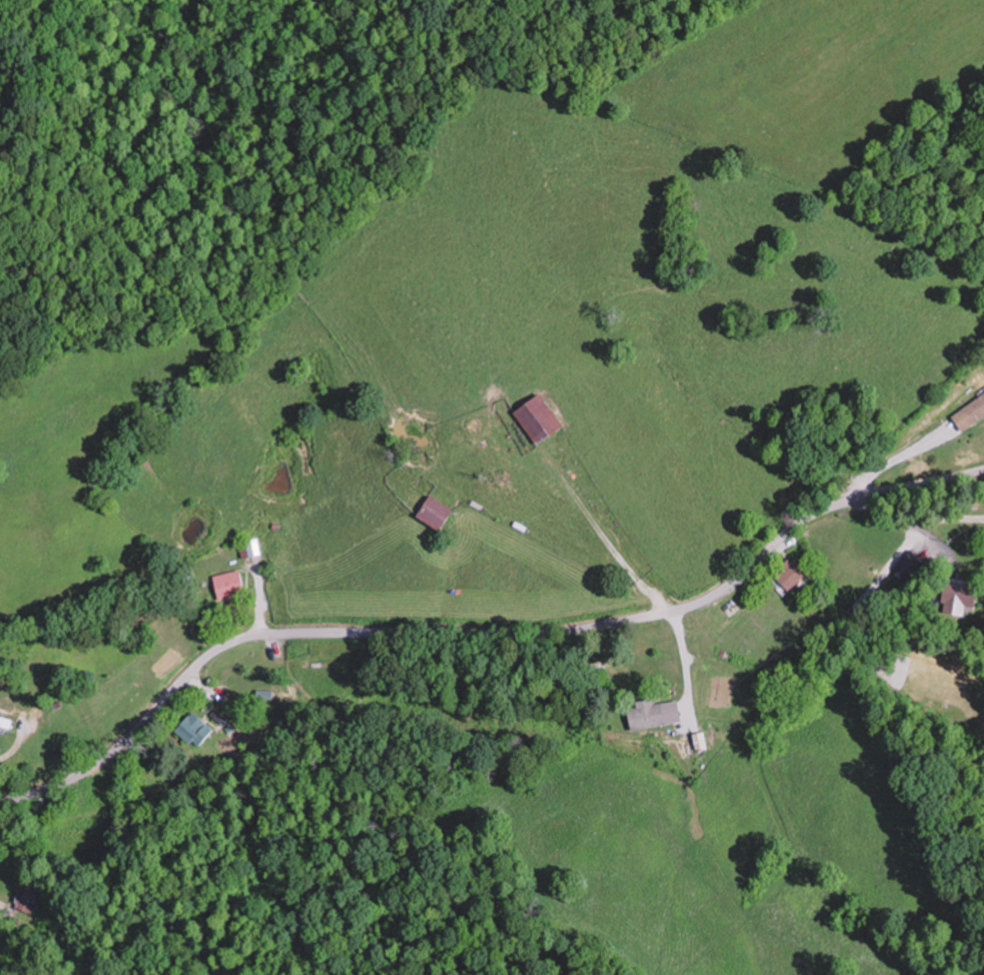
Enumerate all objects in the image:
building: (971, 414)
building: (541, 419)
building: (481, 421)
building: (438, 513)
building: (254, 548)
building: (911, 566)
building: (796, 573)
building: (231, 584)
building: (960, 597)
road: (655, 599)
road: (484, 632)
building: (655, 713)
building: (6, 722)
building: (195, 730)
road: (399, 797)
building: (31, 896)

